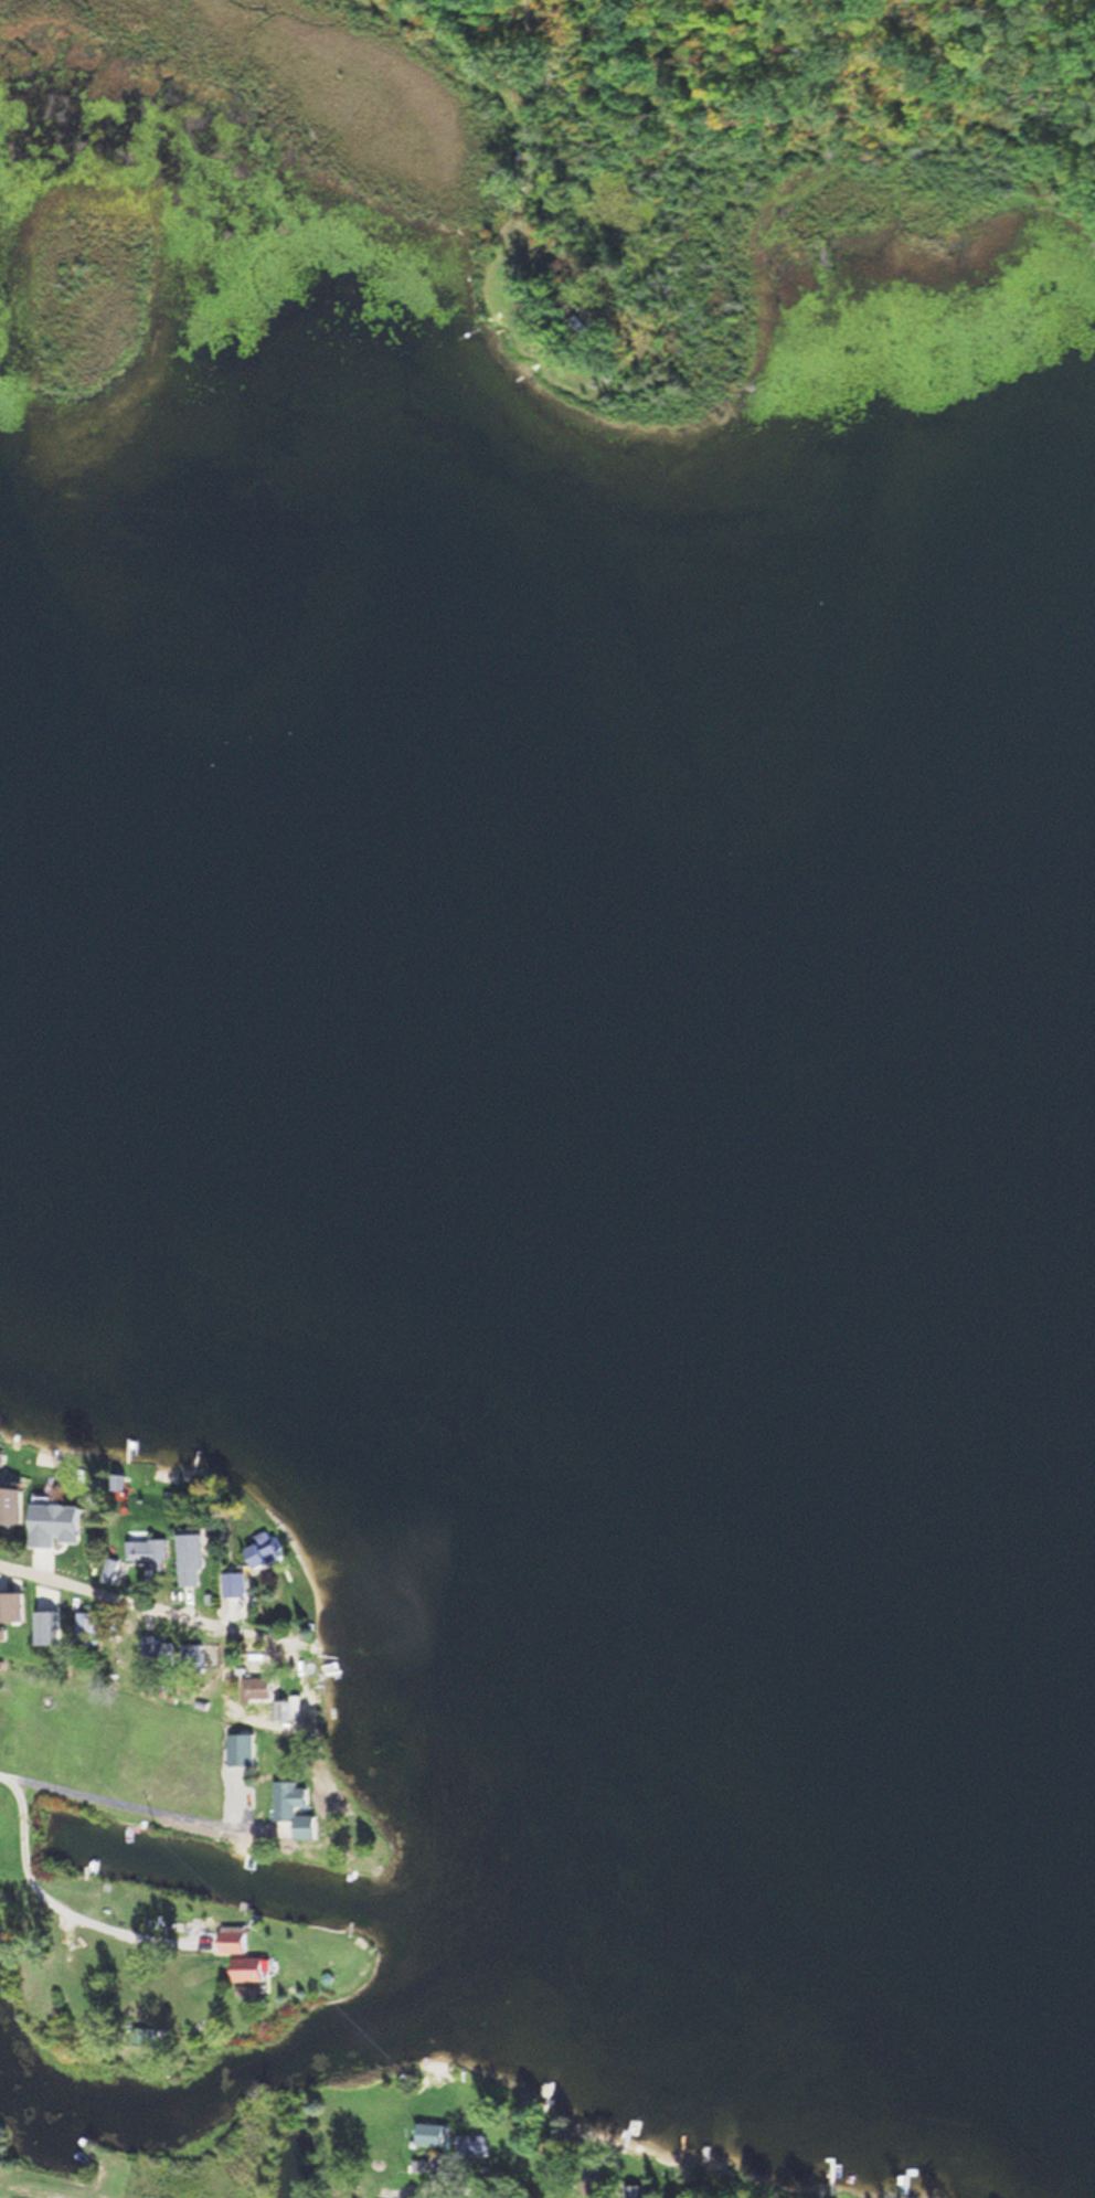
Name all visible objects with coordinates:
building: (12, 1505)
building: (72, 1540)
building: (264, 1548)
building: (152, 1550)
building: (195, 1557)
building: (236, 1582)
road: (148, 1595)
building: (51, 1626)
building: (91, 1627)
building: (161, 1652)
building: (191, 1655)
building: (254, 1687)
building: (286, 1709)
building: (296, 1807)
building: (234, 1937)
building: (252, 1967)
building: (433, 2133)
building: (472, 2145)
building: (511, 2147)
road: (461, 2181)

